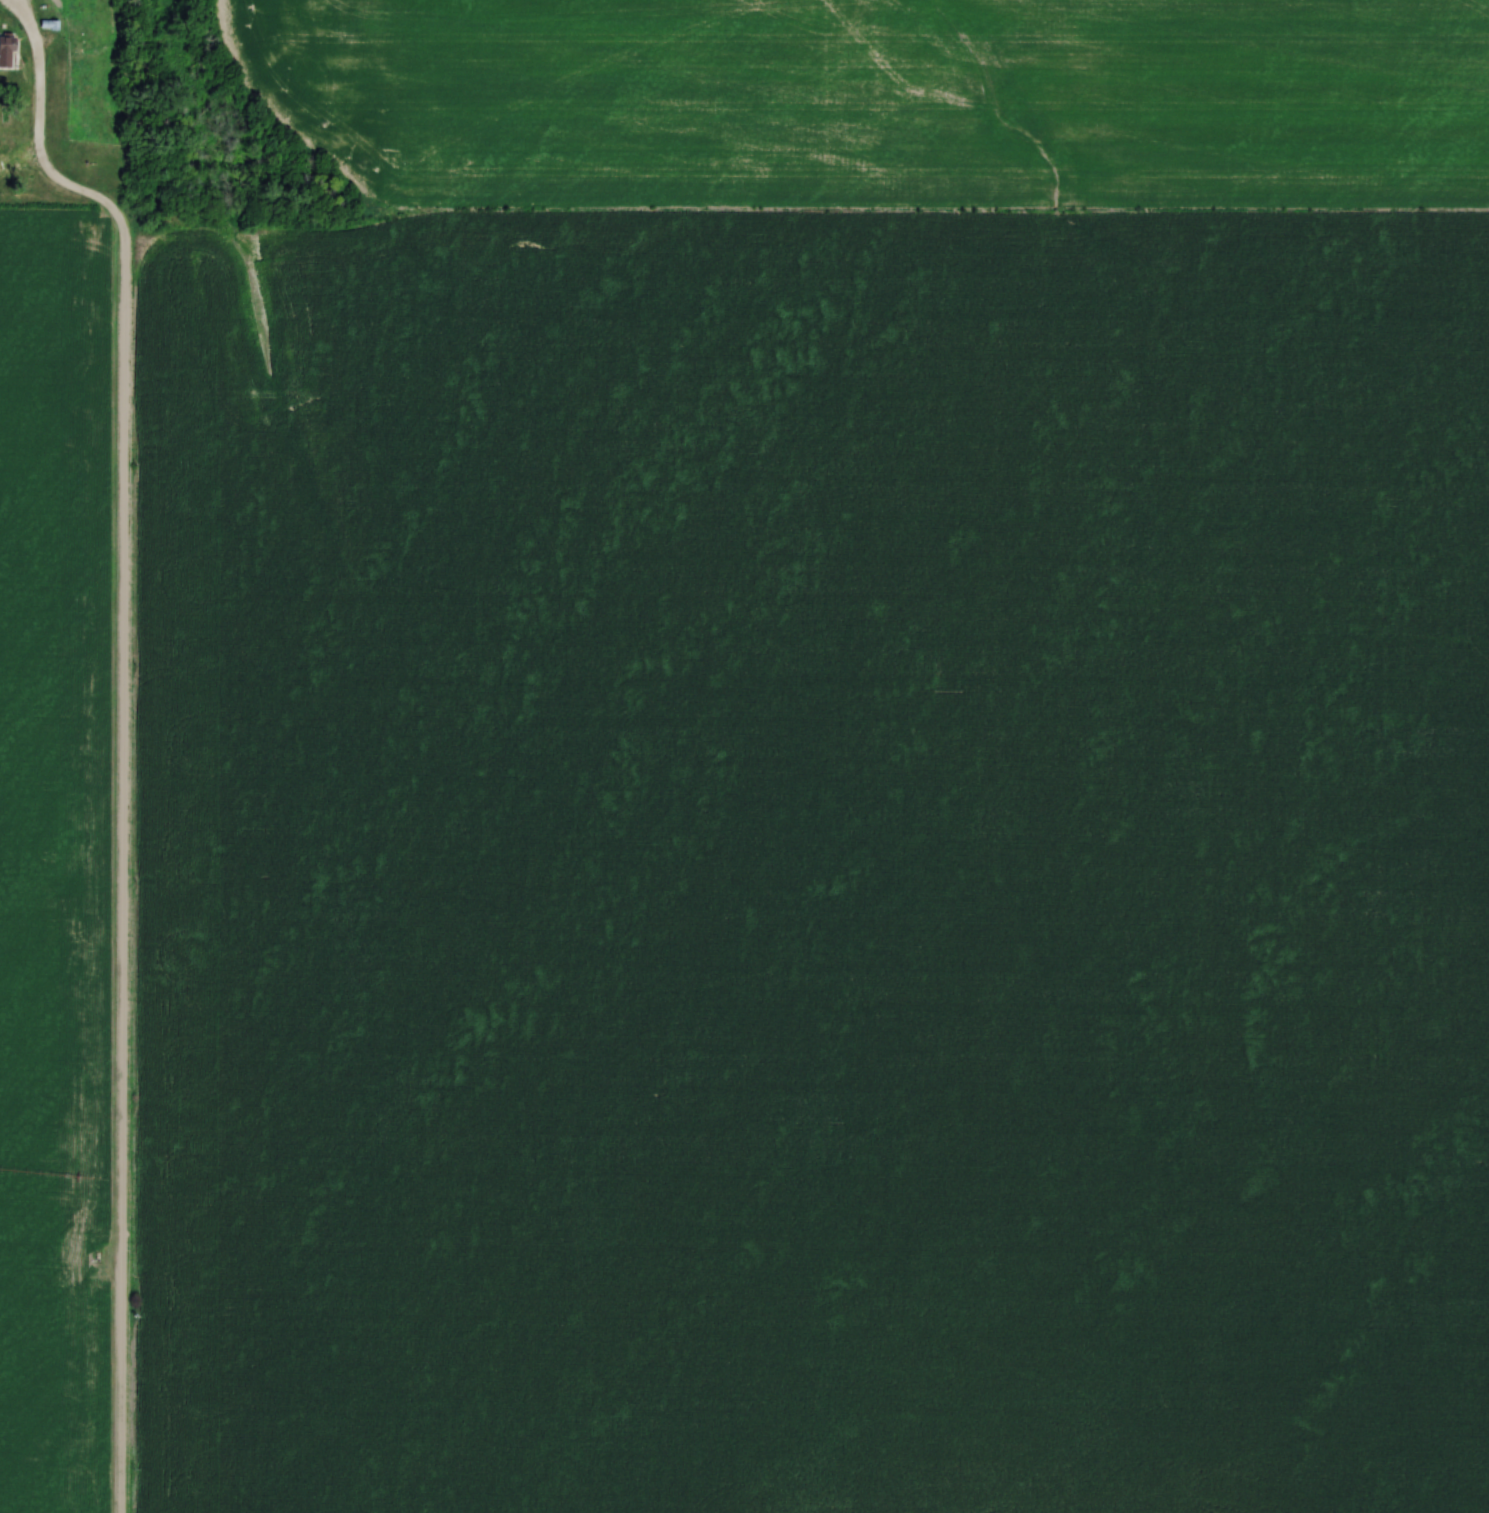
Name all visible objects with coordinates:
building: (4, 54)
road: (120, 730)

